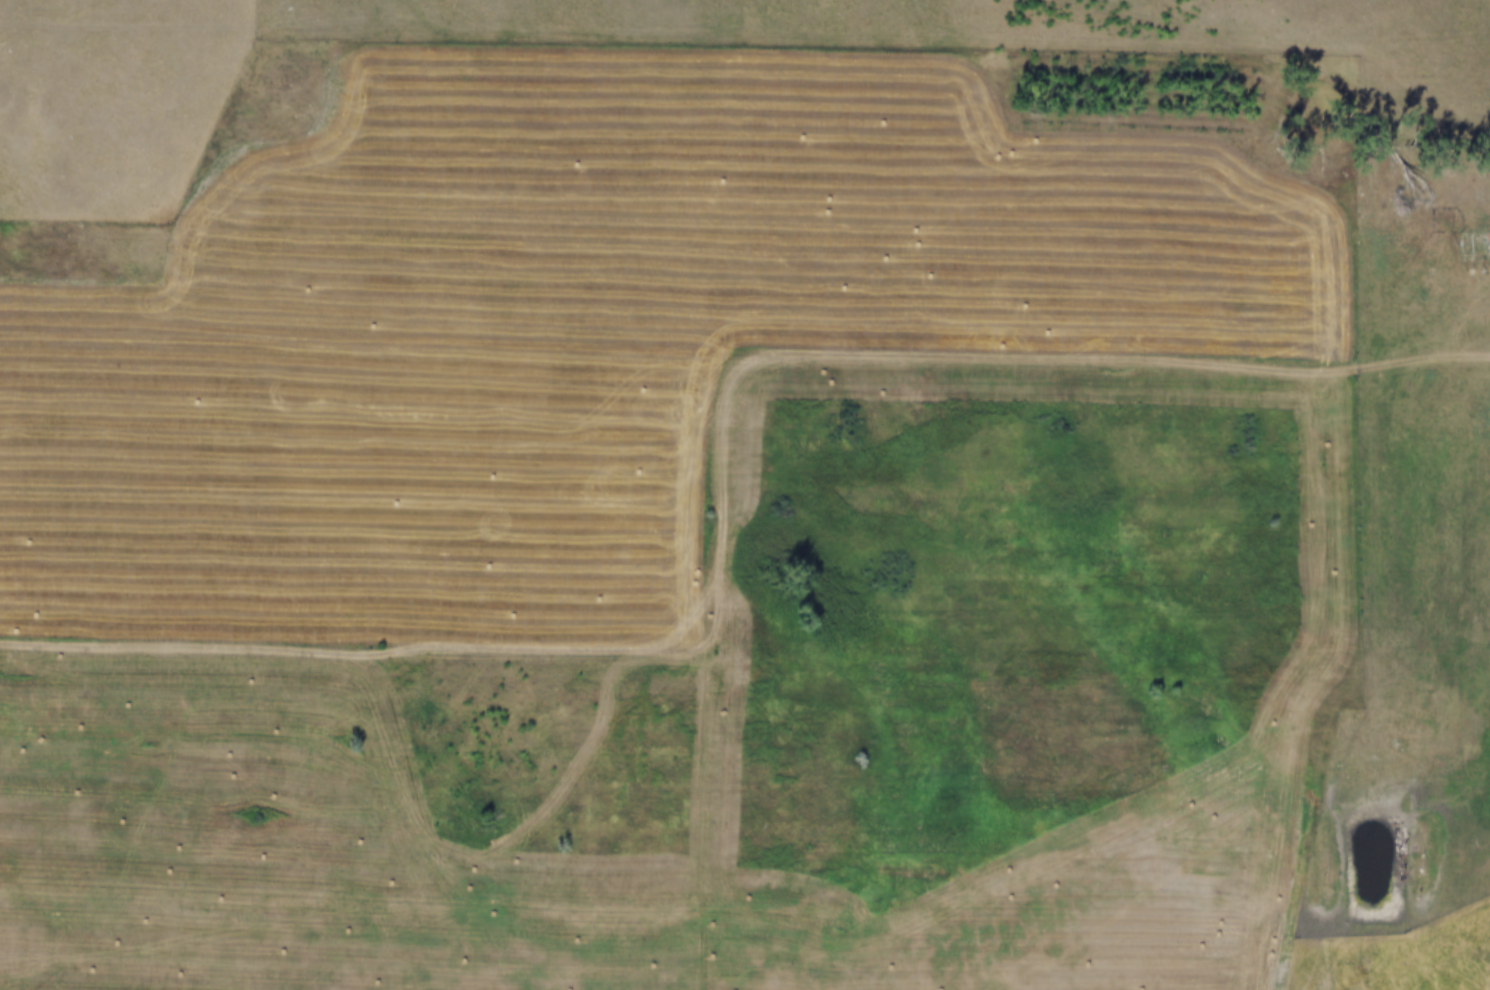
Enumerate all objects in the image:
building: (1474, 243)

